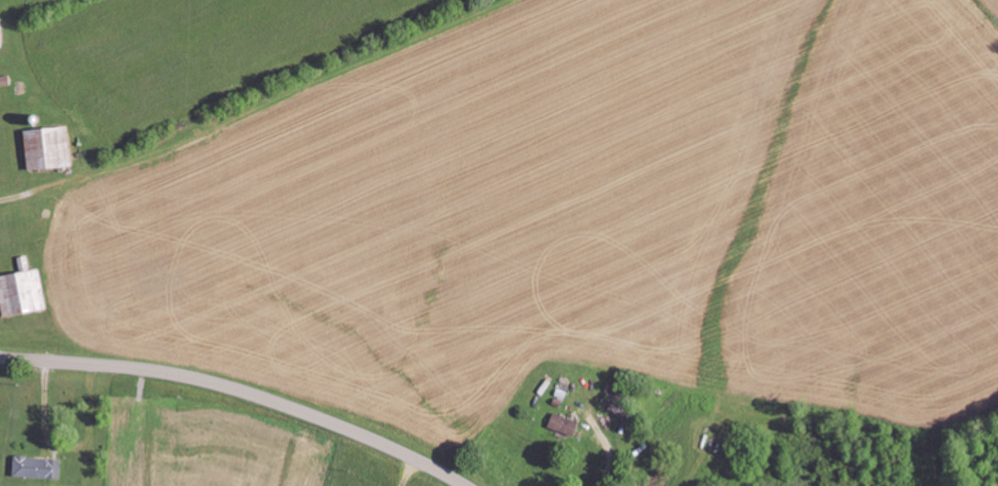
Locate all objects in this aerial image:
building: (1, 35)
building: (49, 146)
building: (22, 291)
road: (239, 391)
building: (563, 423)
building: (37, 466)

